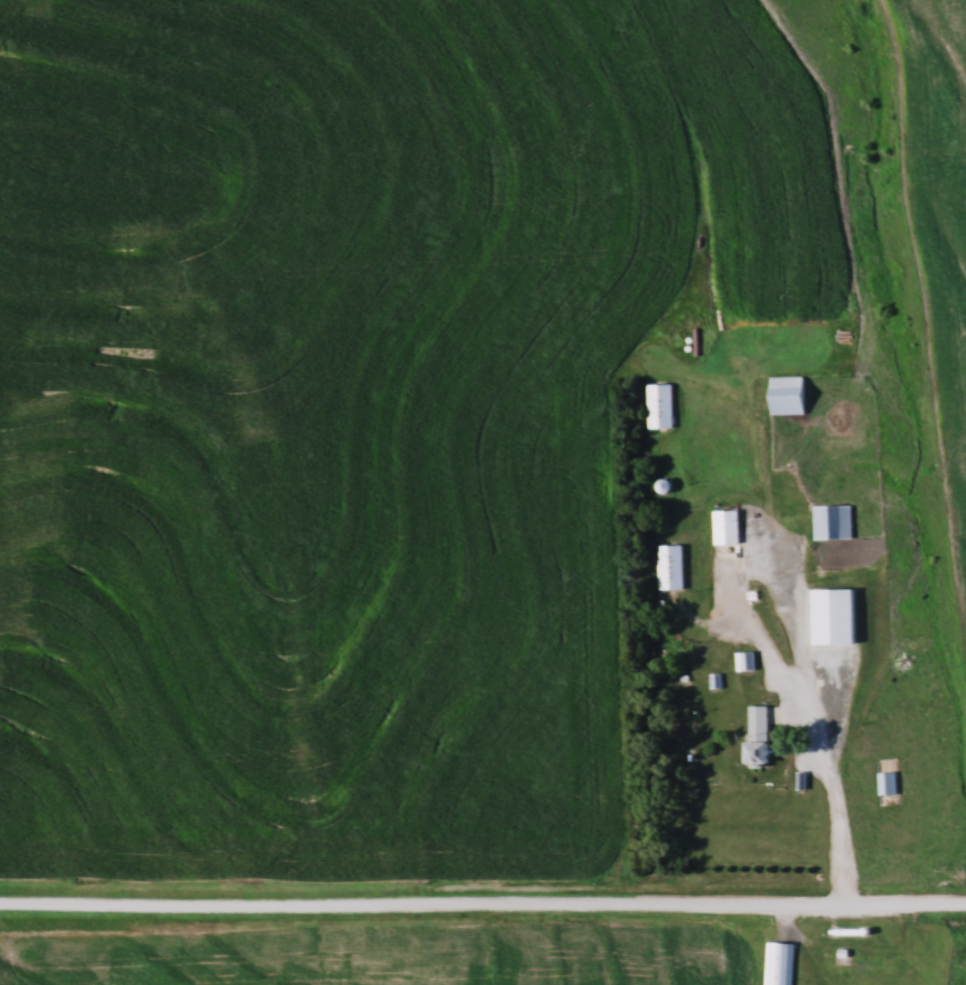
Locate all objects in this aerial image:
building: (790, 395)
building: (661, 406)
building: (665, 486)
building: (833, 522)
building: (728, 527)
building: (672, 567)
road: (743, 613)
building: (746, 661)
building: (760, 735)
building: (888, 783)
road: (838, 801)
road: (482, 909)
building: (779, 963)

